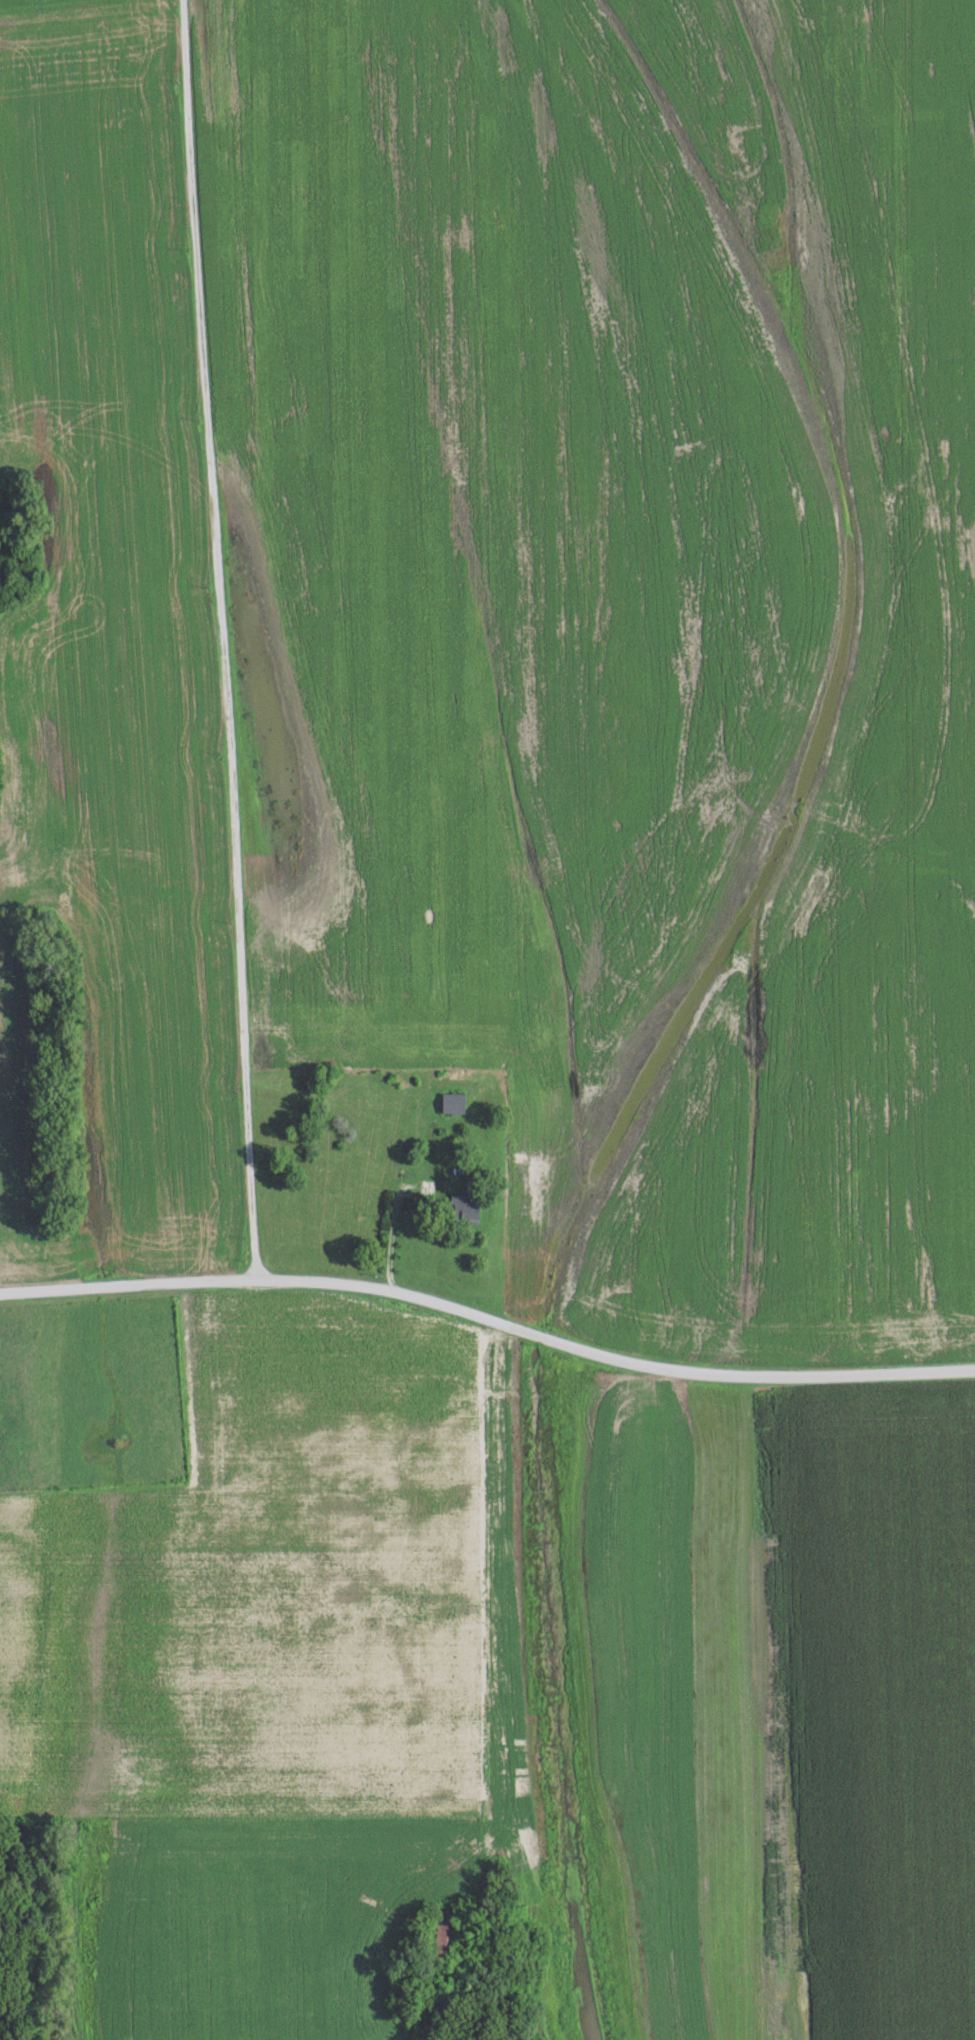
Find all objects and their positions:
road: (222, 639)
building: (452, 1102)
building: (465, 1205)
road: (390, 1231)
road: (488, 1318)

